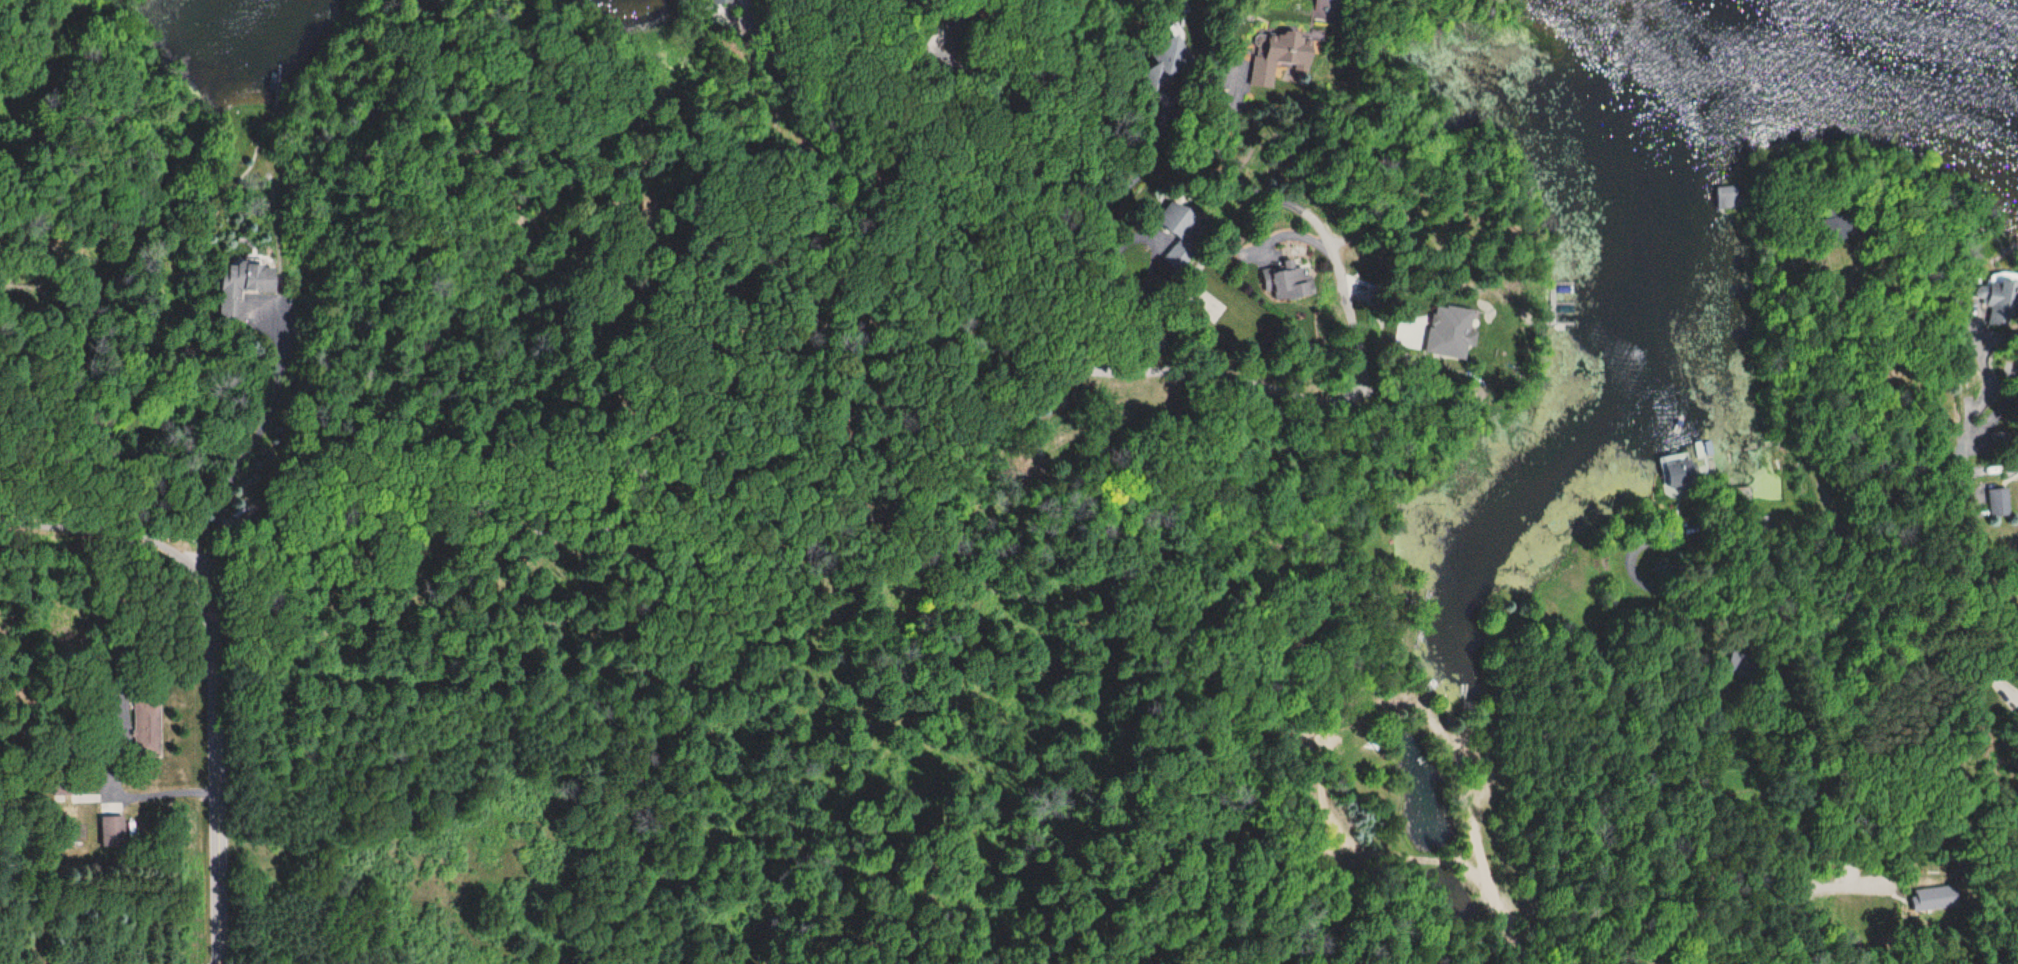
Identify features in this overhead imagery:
building: (718, 2)
building: (1324, 10)
building: (1278, 55)
building: (1163, 60)
building: (1726, 198)
building: (1836, 229)
building: (1174, 236)
building: (1287, 281)
building: (241, 287)
building: (1205, 305)
road: (1951, 307)
building: (1996, 316)
road: (953, 463)
building: (1679, 470)
road: (1963, 477)
road: (1992, 480)
building: (1998, 503)
road: (100, 536)
road: (1907, 649)
building: (145, 729)
road: (211, 767)
road: (1823, 768)
building: (111, 831)
road: (1482, 870)

